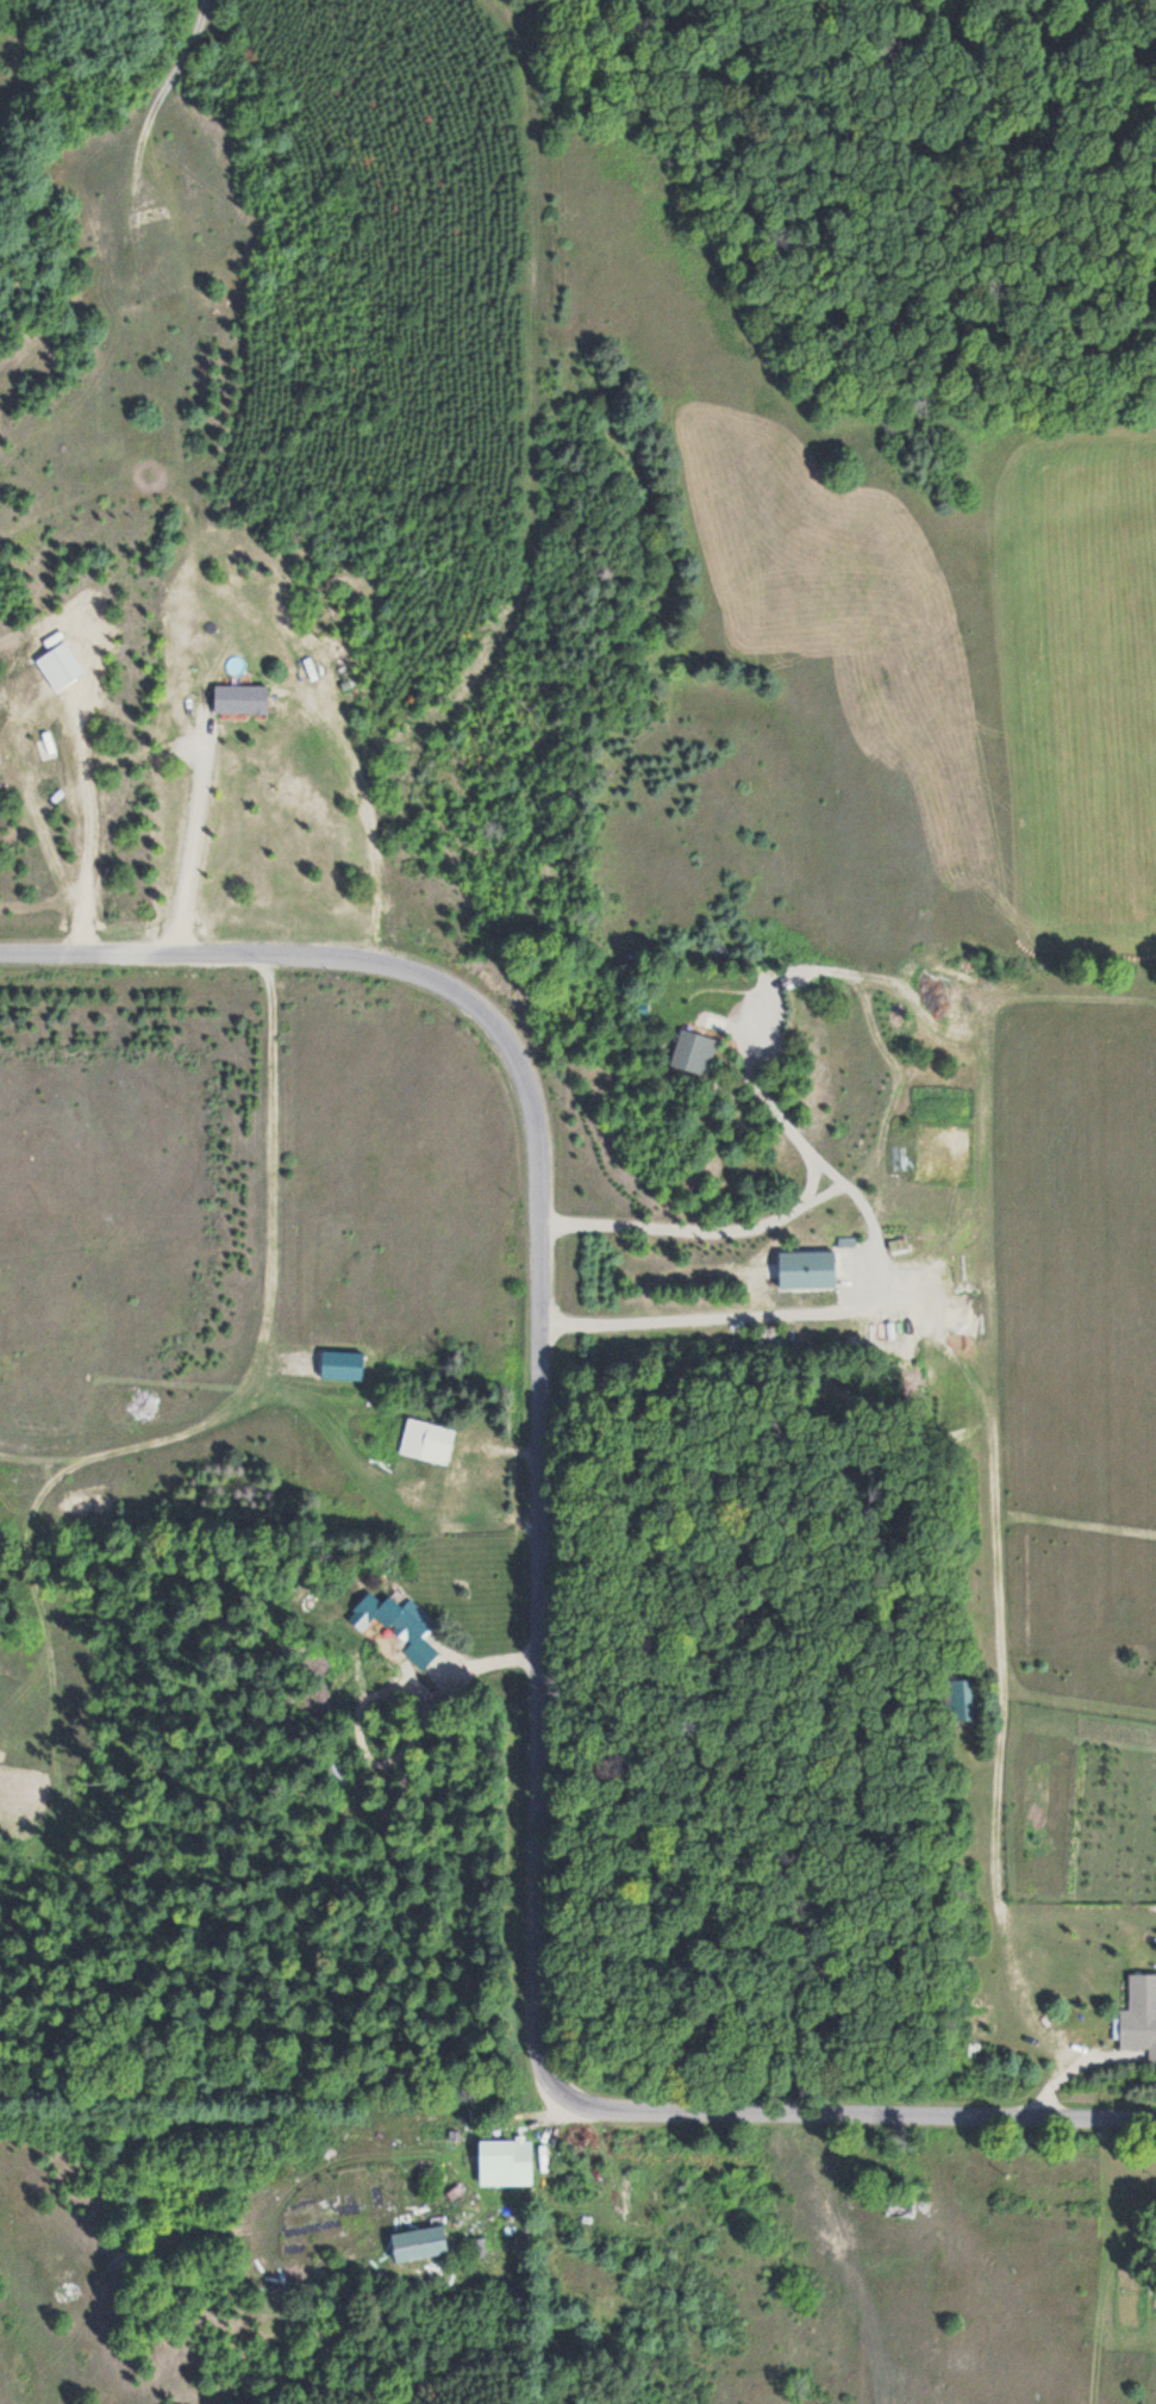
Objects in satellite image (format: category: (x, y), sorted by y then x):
building: (239, 698)
building: (340, 1366)
building: (425, 1441)
road: (542, 1605)
building: (398, 1625)
building: (961, 1700)
building: (335, 1774)
building: (1137, 2030)
building: (506, 2157)
building: (417, 2246)

